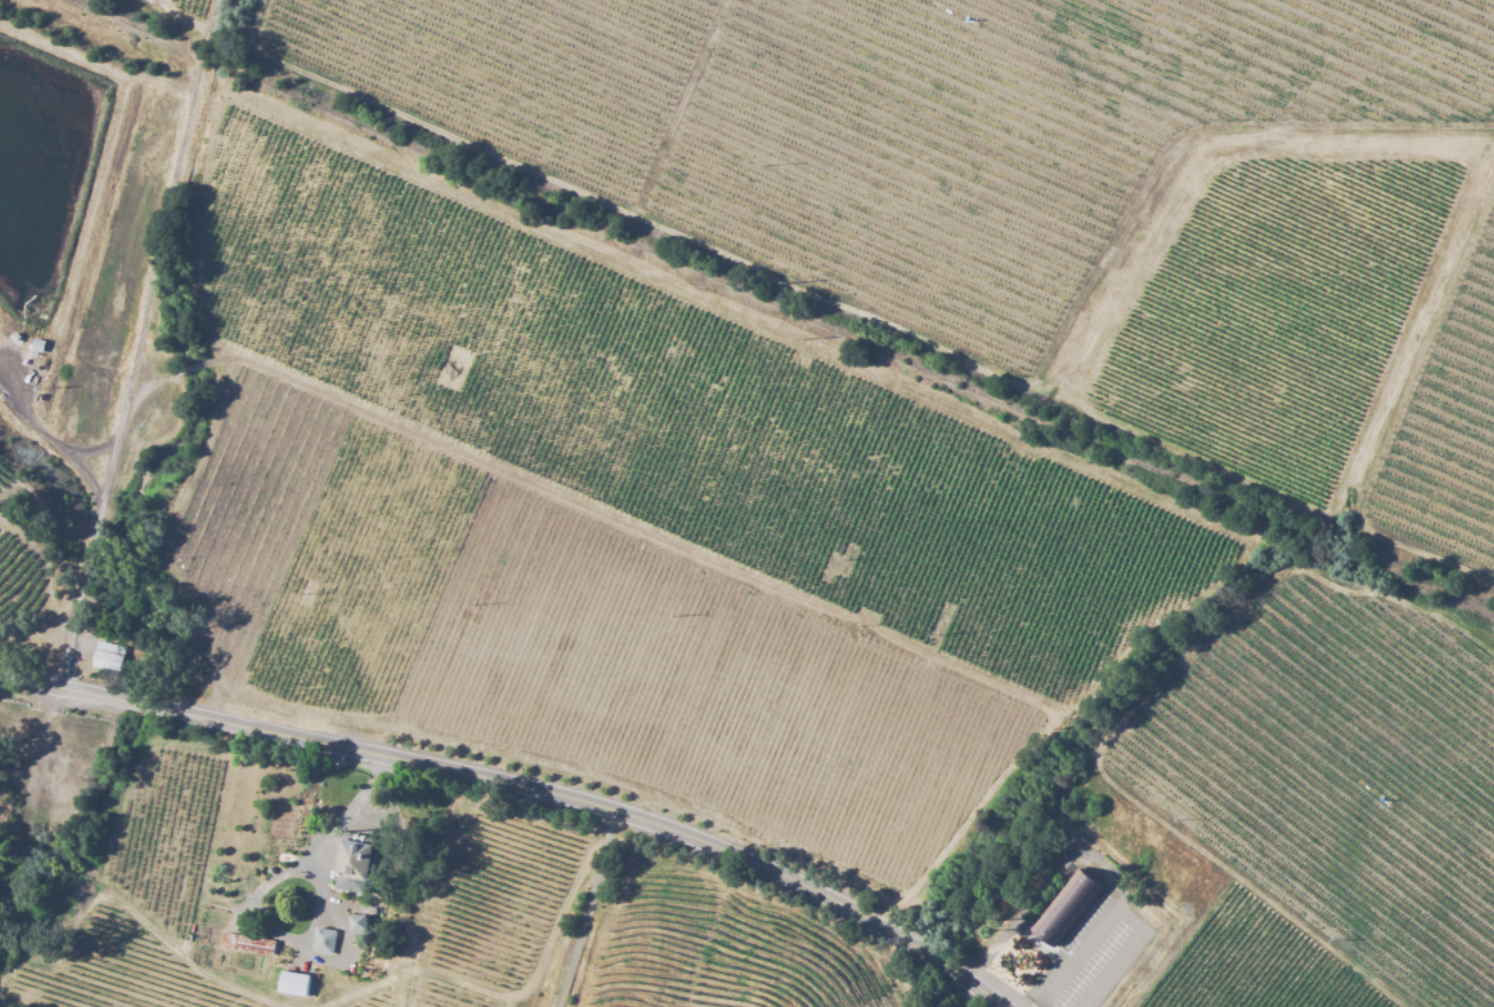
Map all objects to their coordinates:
railway: (782, 307)
road: (130, 345)
railway: (1458, 604)
building: (107, 655)
road: (521, 791)
building: (283, 859)
building: (356, 864)
road: (1045, 879)
building: (1067, 902)
road: (599, 914)
road: (1112, 914)
building: (358, 926)
building: (322, 941)
building: (245, 944)
building: (293, 985)

